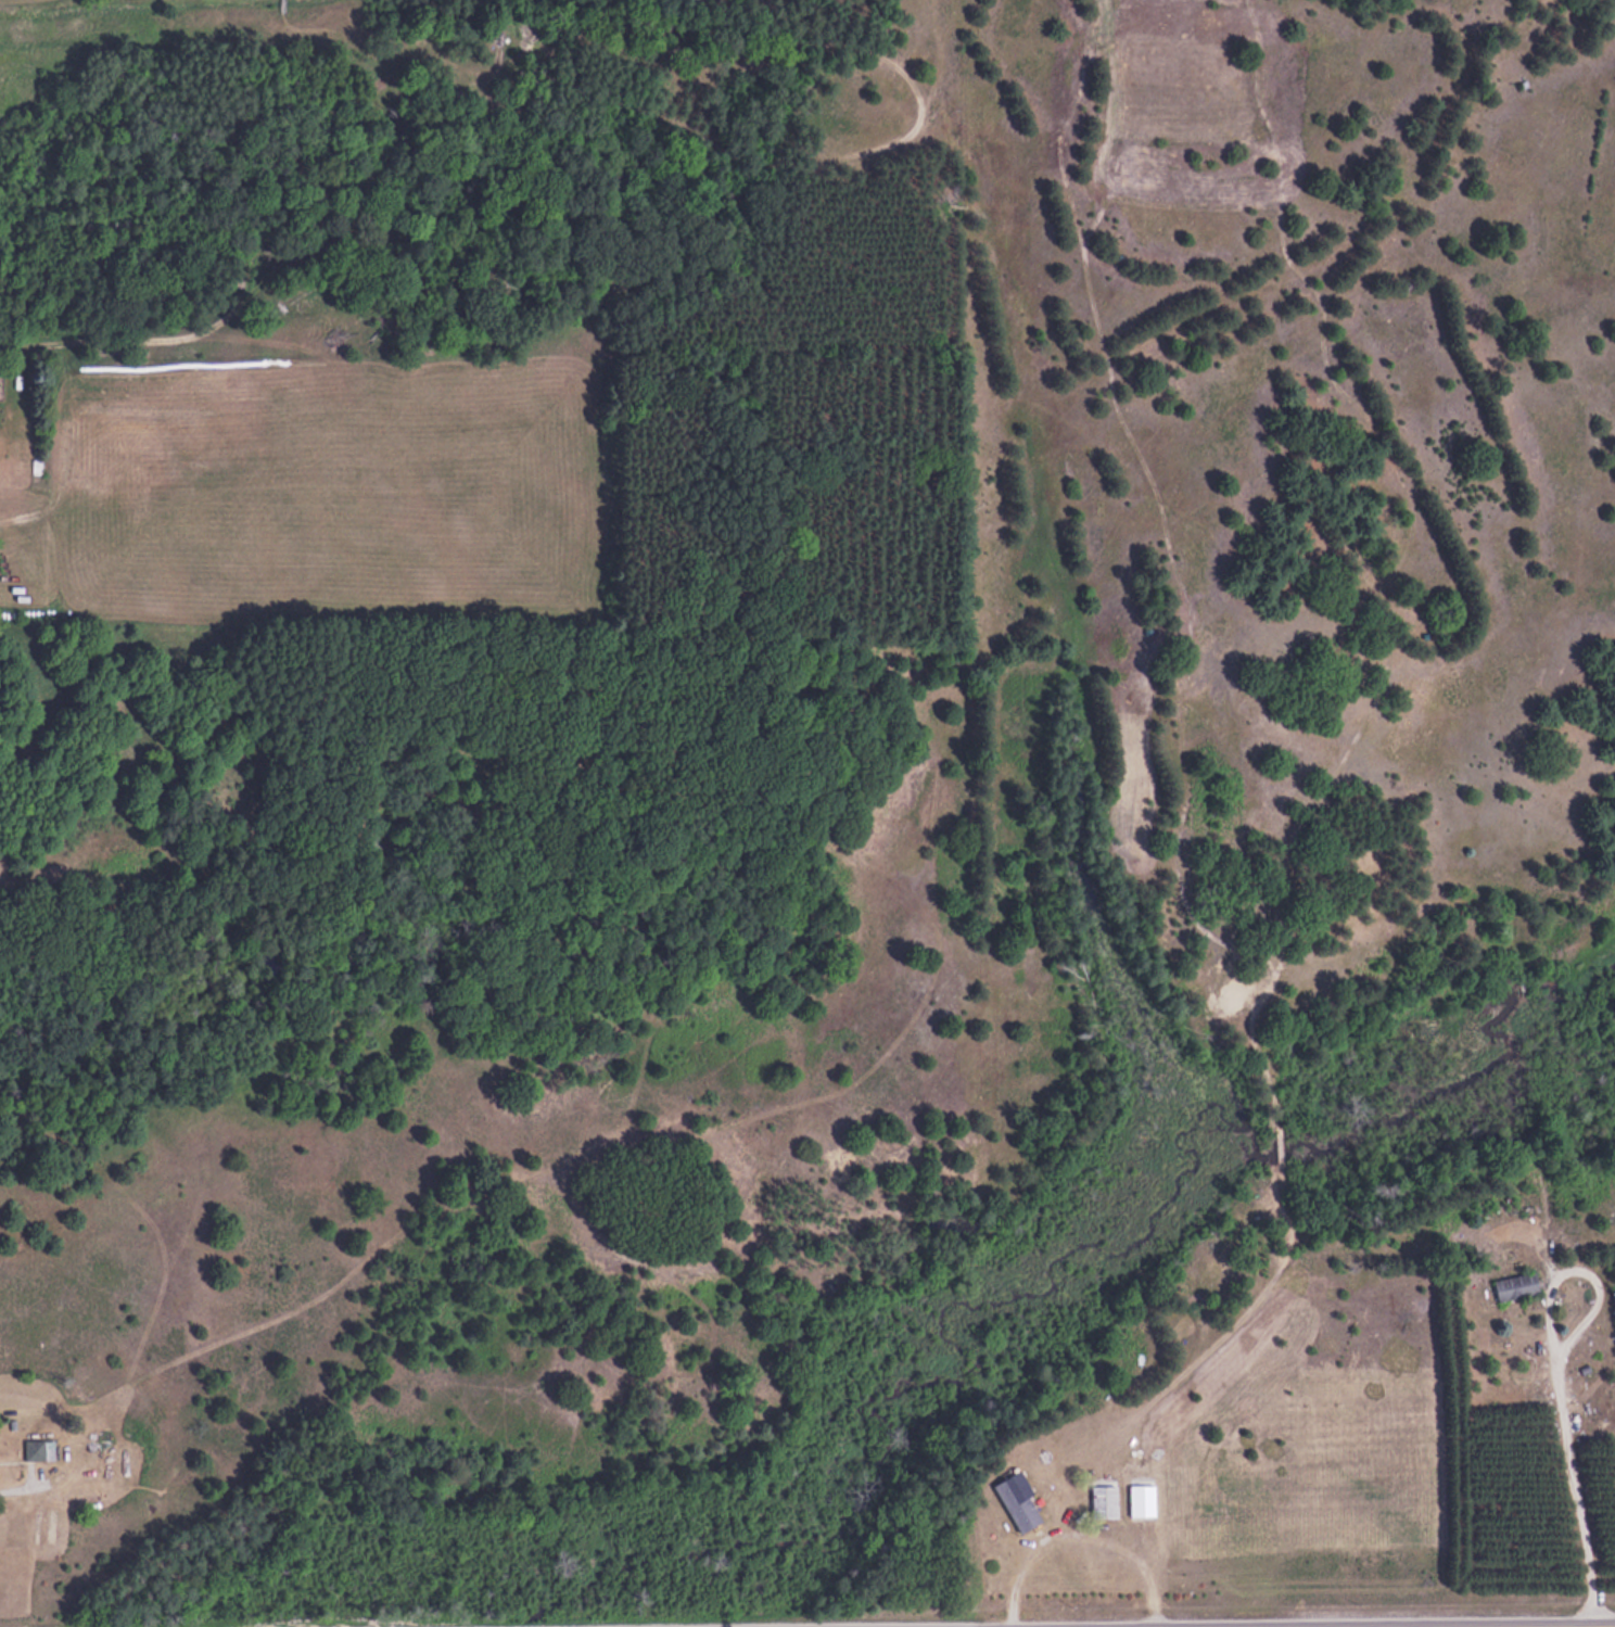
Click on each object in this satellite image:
building: (1515, 1285)
building: (36, 1449)
building: (1105, 1500)
building: (1018, 1502)
road: (1337, 1614)

